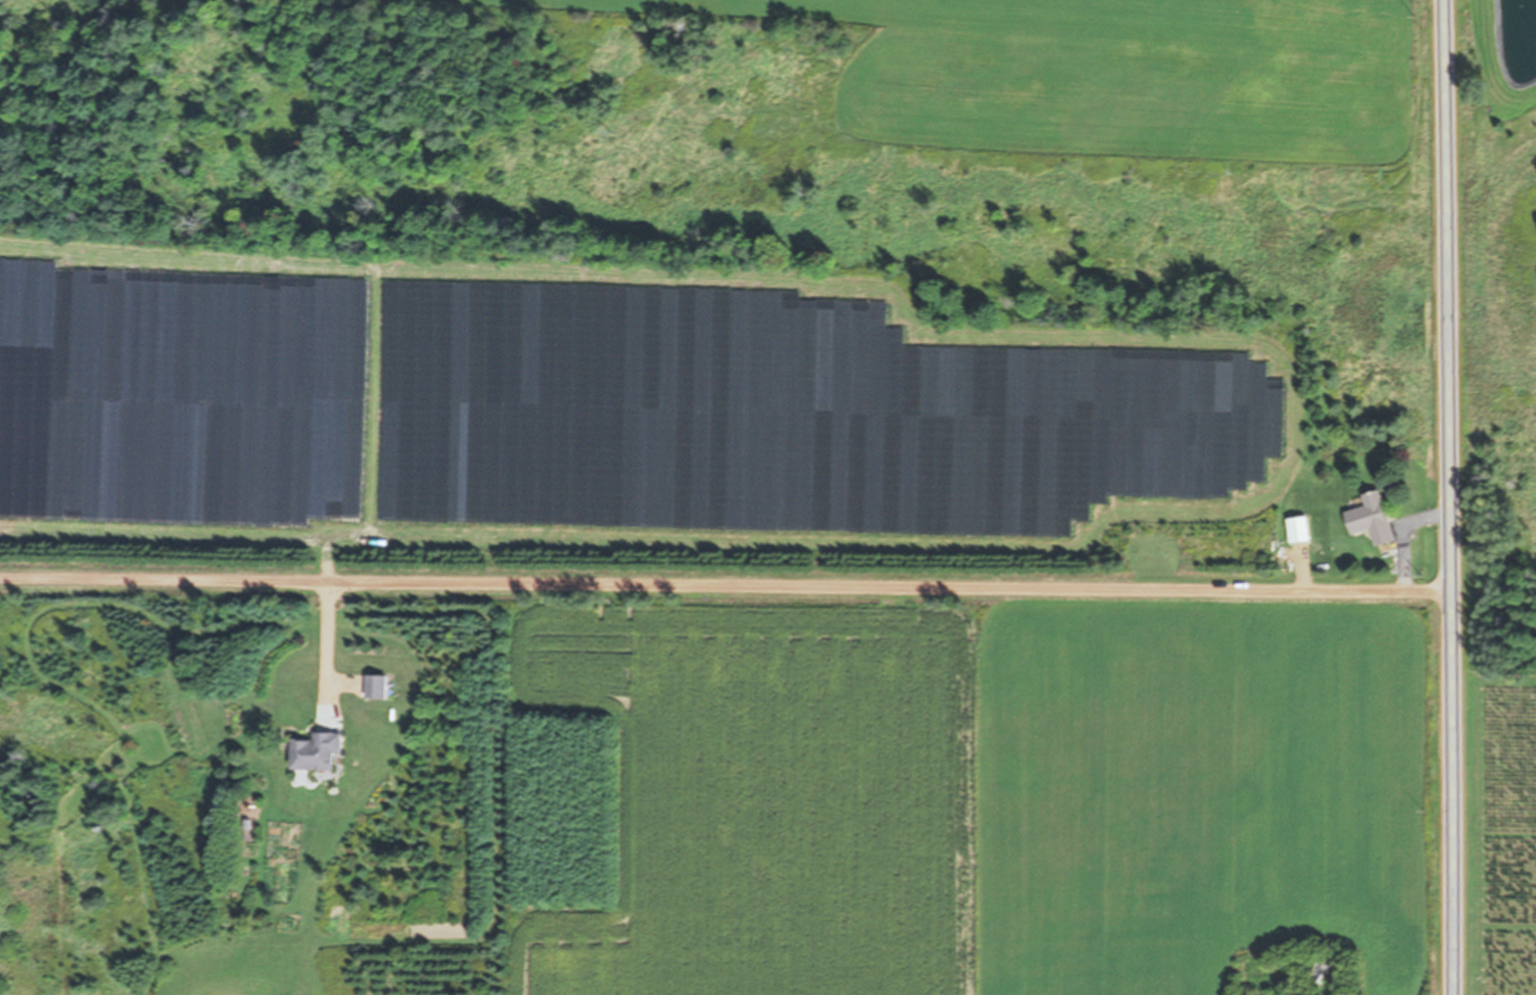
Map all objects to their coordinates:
road: (1448, 497)
building: (1373, 518)
building: (1299, 529)
road: (724, 583)
building: (376, 686)
building: (318, 751)
crop: (975, 793)

